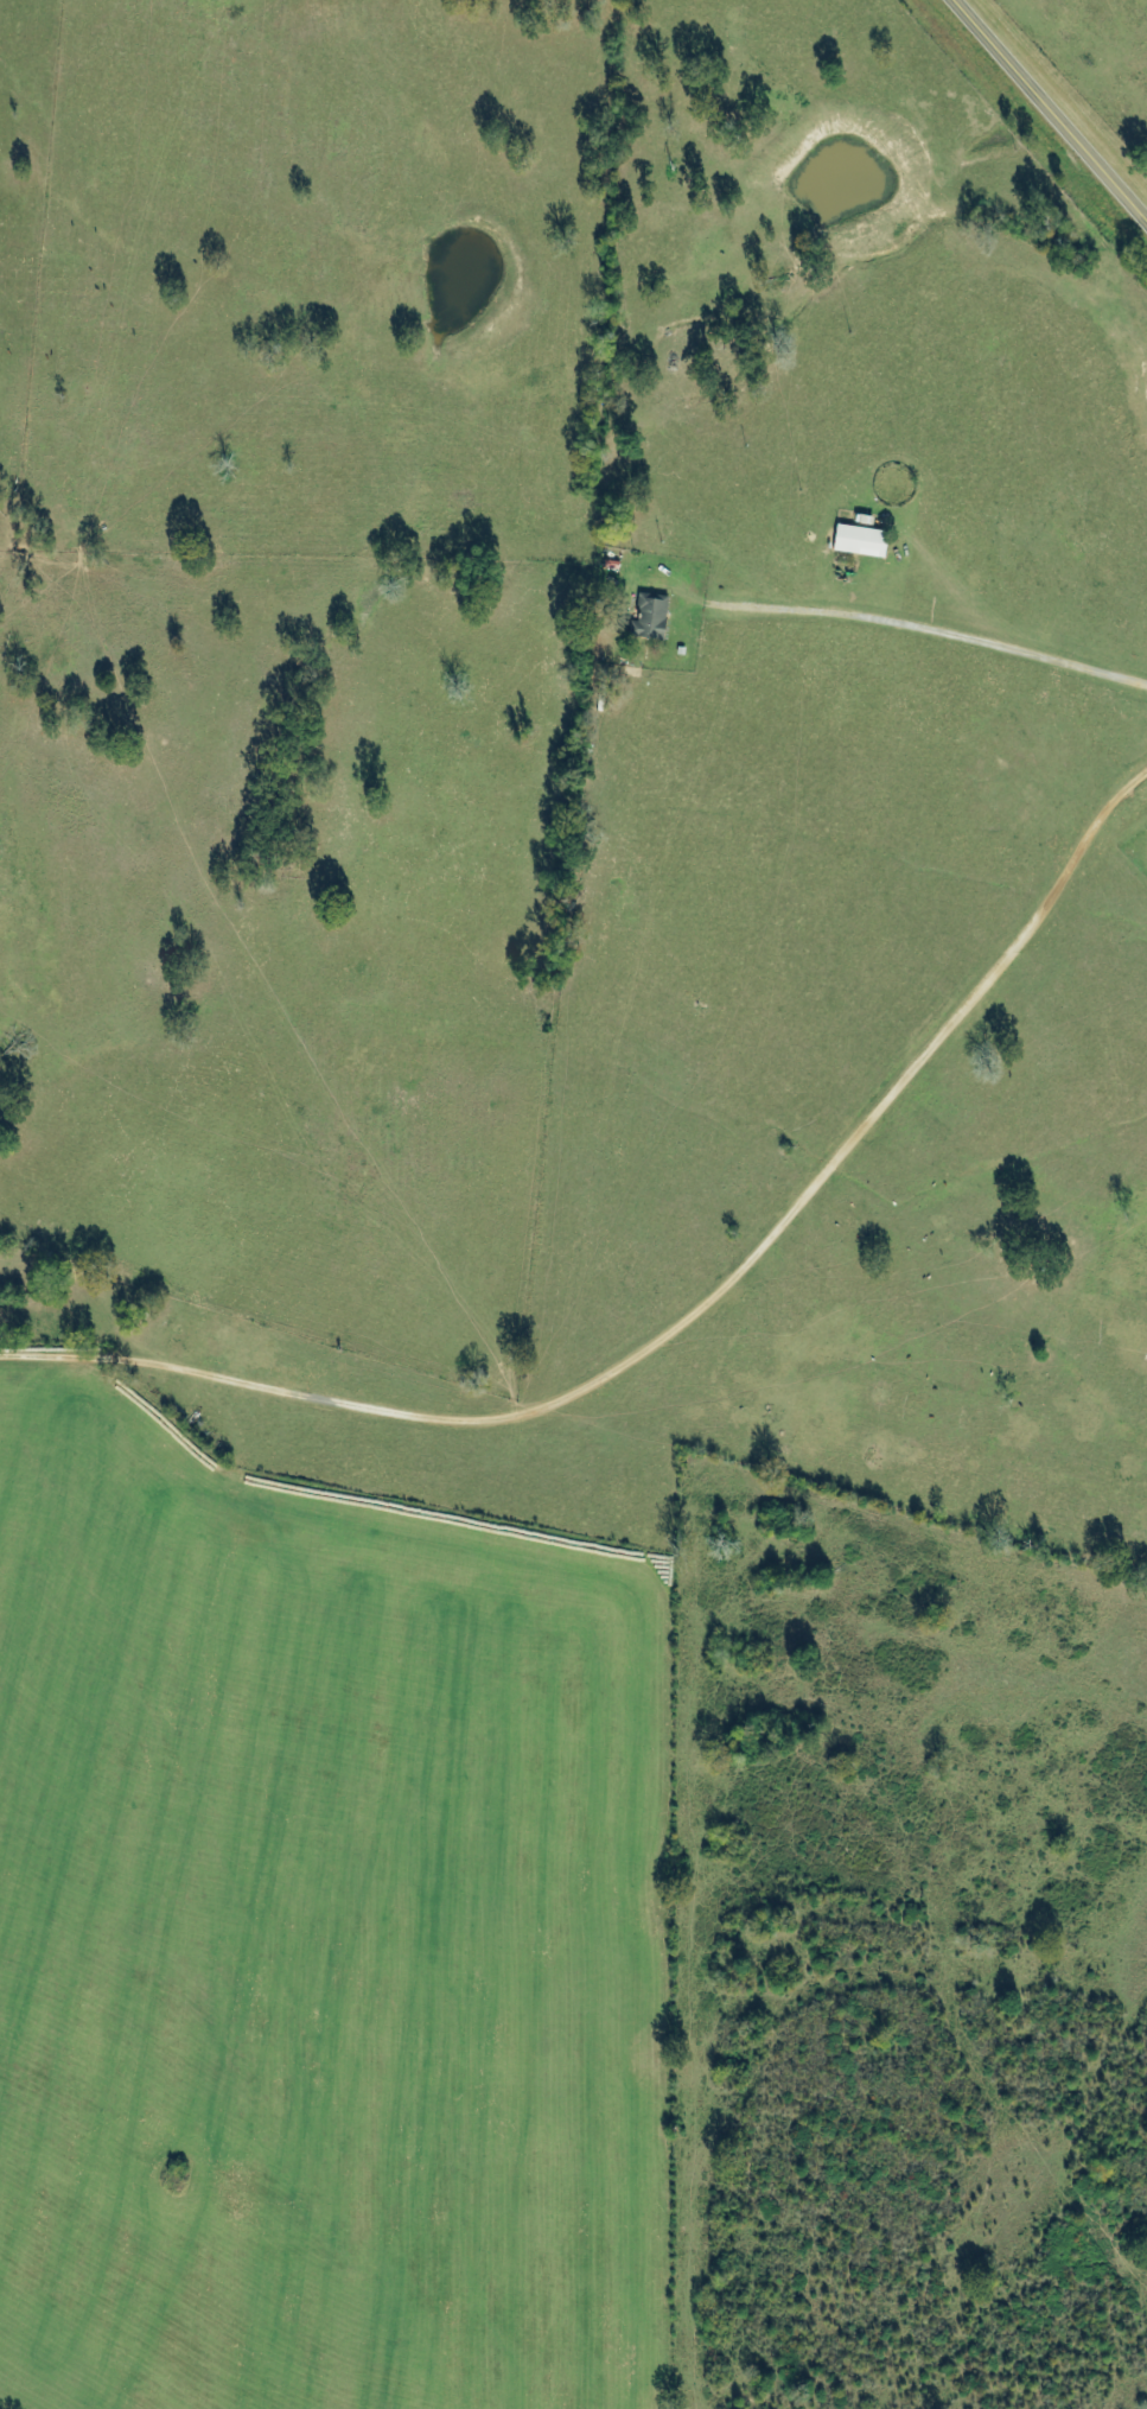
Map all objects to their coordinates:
road: (1056, 100)
building: (859, 540)
building: (650, 617)

